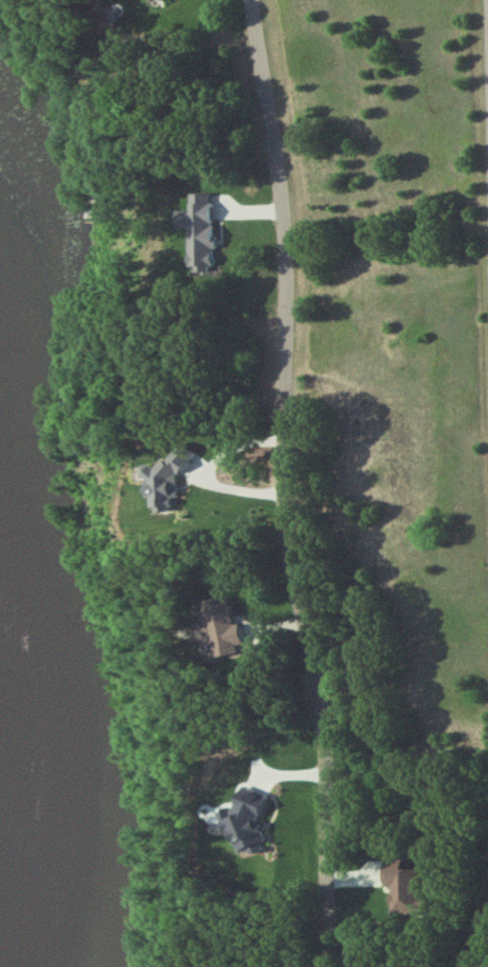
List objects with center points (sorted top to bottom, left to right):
road: (283, 483)
road: (481, 947)

